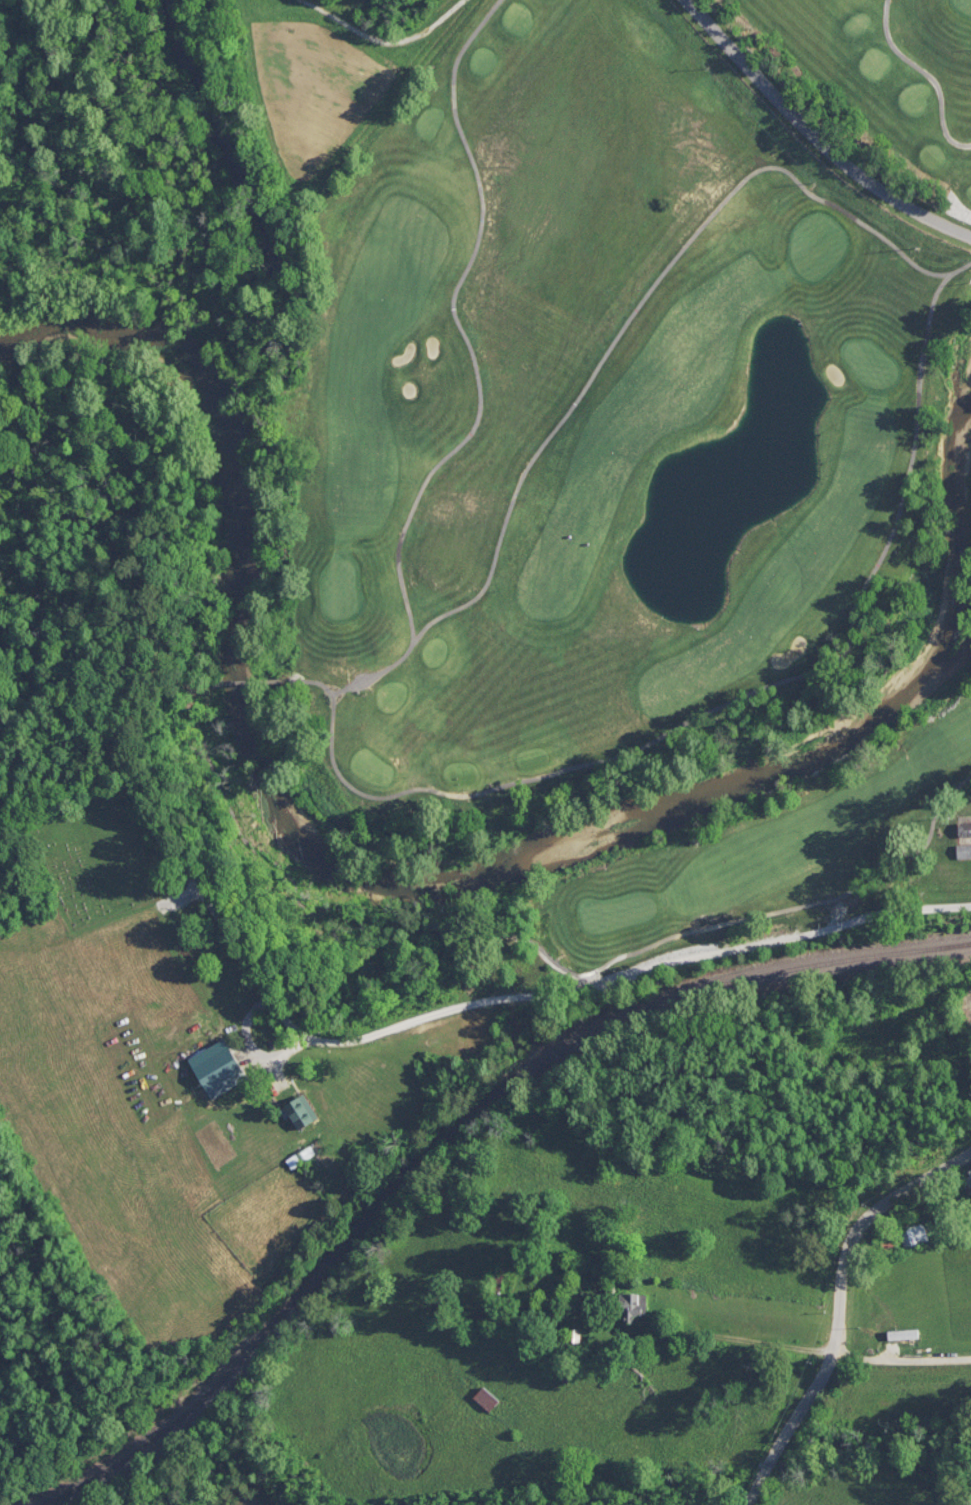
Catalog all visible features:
park: (884, 74)
road: (928, 77)
road: (825, 128)
road: (633, 310)
road: (472, 372)
park: (631, 495)
road: (235, 683)
road: (204, 685)
road: (715, 707)
road: (113, 737)
river: (312, 817)
building: (964, 829)
building: (964, 851)
park: (117, 864)
road: (541, 948)
road: (550, 988)
building: (298, 1100)
building: (307, 1112)
railway: (457, 1140)
building: (969, 1174)
building: (913, 1235)
building: (498, 1279)
building: (637, 1307)
road: (840, 1308)
road: (742, 1338)
road: (902, 1352)
building: (488, 1398)

